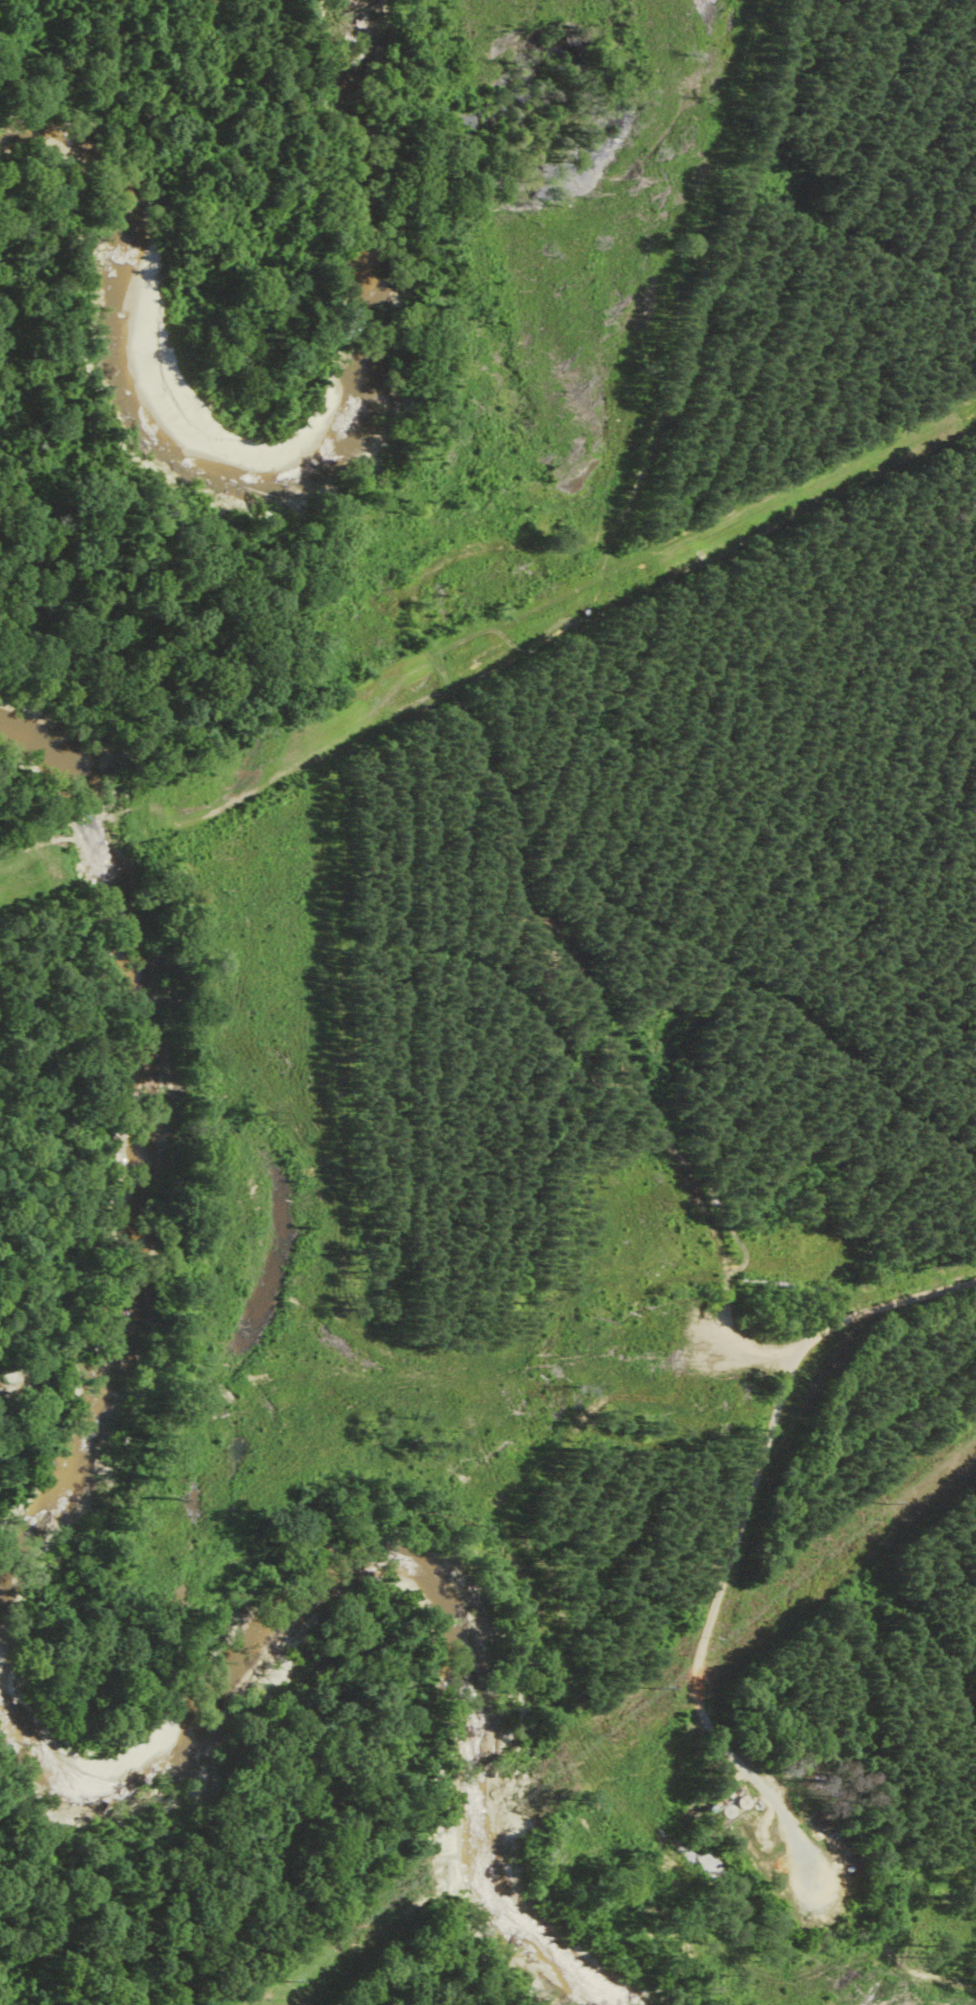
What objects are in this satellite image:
river: (284, 475)
river: (139, 1140)
road: (737, 1533)
river: (384, 1572)
building: (722, 1814)

